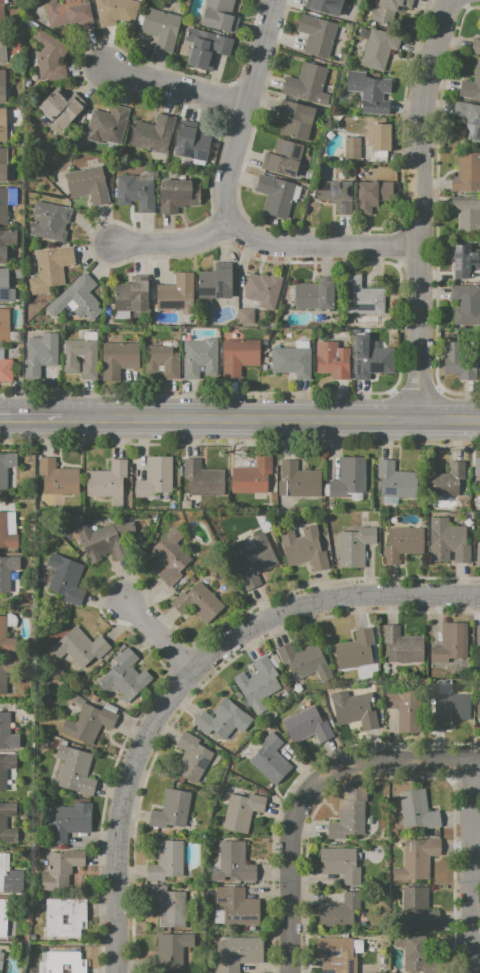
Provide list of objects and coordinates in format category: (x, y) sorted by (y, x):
building: (325, 6)
building: (388, 9)
building: (116, 11)
building: (1, 12)
building: (68, 14)
building: (219, 15)
building: (161, 28)
building: (317, 35)
building: (2, 46)
building: (475, 46)
building: (206, 47)
building: (376, 47)
building: (49, 55)
building: (307, 84)
road: (176, 85)
building: (471, 85)
building: (2, 86)
building: (369, 92)
building: (61, 108)
road: (243, 112)
building: (296, 119)
building: (468, 119)
building: (2, 125)
building: (106, 125)
building: (153, 134)
building: (378, 137)
building: (191, 144)
building: (351, 147)
building: (282, 158)
building: (3, 165)
building: (467, 172)
building: (88, 185)
building: (134, 193)
building: (335, 194)
building: (177, 195)
building: (275, 195)
building: (371, 195)
building: (3, 206)
road: (420, 207)
building: (467, 213)
building: (50, 221)
building: (6, 243)
road: (174, 243)
road: (321, 245)
building: (461, 261)
building: (51, 267)
building: (215, 284)
building: (3, 285)
building: (263, 289)
building: (131, 294)
building: (176, 294)
building: (313, 296)
building: (361, 297)
building: (77, 298)
building: (466, 304)
building: (245, 316)
building: (4, 325)
building: (40, 354)
building: (239, 356)
building: (200, 357)
building: (118, 358)
building: (371, 358)
building: (69, 359)
building: (332, 360)
building: (162, 361)
building: (292, 361)
building: (459, 361)
building: (6, 370)
road: (271, 418)
road: (31, 419)
building: (6, 467)
building: (477, 471)
building: (251, 476)
building: (155, 477)
building: (348, 477)
building: (57, 478)
building: (203, 479)
building: (107, 480)
building: (296, 480)
building: (448, 480)
building: (396, 481)
building: (79, 518)
building: (7, 533)
building: (105, 540)
building: (448, 541)
building: (402, 543)
building: (354, 546)
building: (304, 548)
building: (170, 556)
building: (478, 556)
building: (251, 559)
building: (7, 571)
building: (65, 579)
road: (328, 600)
building: (197, 603)
road: (159, 635)
building: (478, 635)
building: (6, 638)
building: (450, 643)
building: (79, 646)
building: (402, 646)
building: (355, 649)
building: (300, 659)
building: (6, 672)
building: (125, 676)
building: (258, 685)
building: (478, 705)
building: (405, 708)
building: (354, 709)
building: (448, 710)
building: (224, 719)
building: (88, 723)
building: (307, 726)
building: (7, 733)
building: (191, 758)
building: (270, 758)
building: (5, 768)
building: (75, 770)
road: (308, 794)
building: (171, 810)
building: (417, 810)
building: (242, 811)
road: (124, 812)
building: (347, 819)
building: (70, 821)
building: (2, 822)
building: (417, 858)
building: (166, 861)
building: (232, 863)
building: (339, 864)
road: (471, 867)
building: (61, 869)
building: (9, 876)
building: (168, 906)
building: (237, 906)
building: (417, 909)
building: (340, 911)
building: (2, 916)
building: (66, 919)
building: (54, 920)
road: (59, 943)
building: (169, 952)
building: (237, 953)
building: (416, 953)
building: (336, 955)
building: (1, 960)
building: (63, 961)
building: (65, 968)

